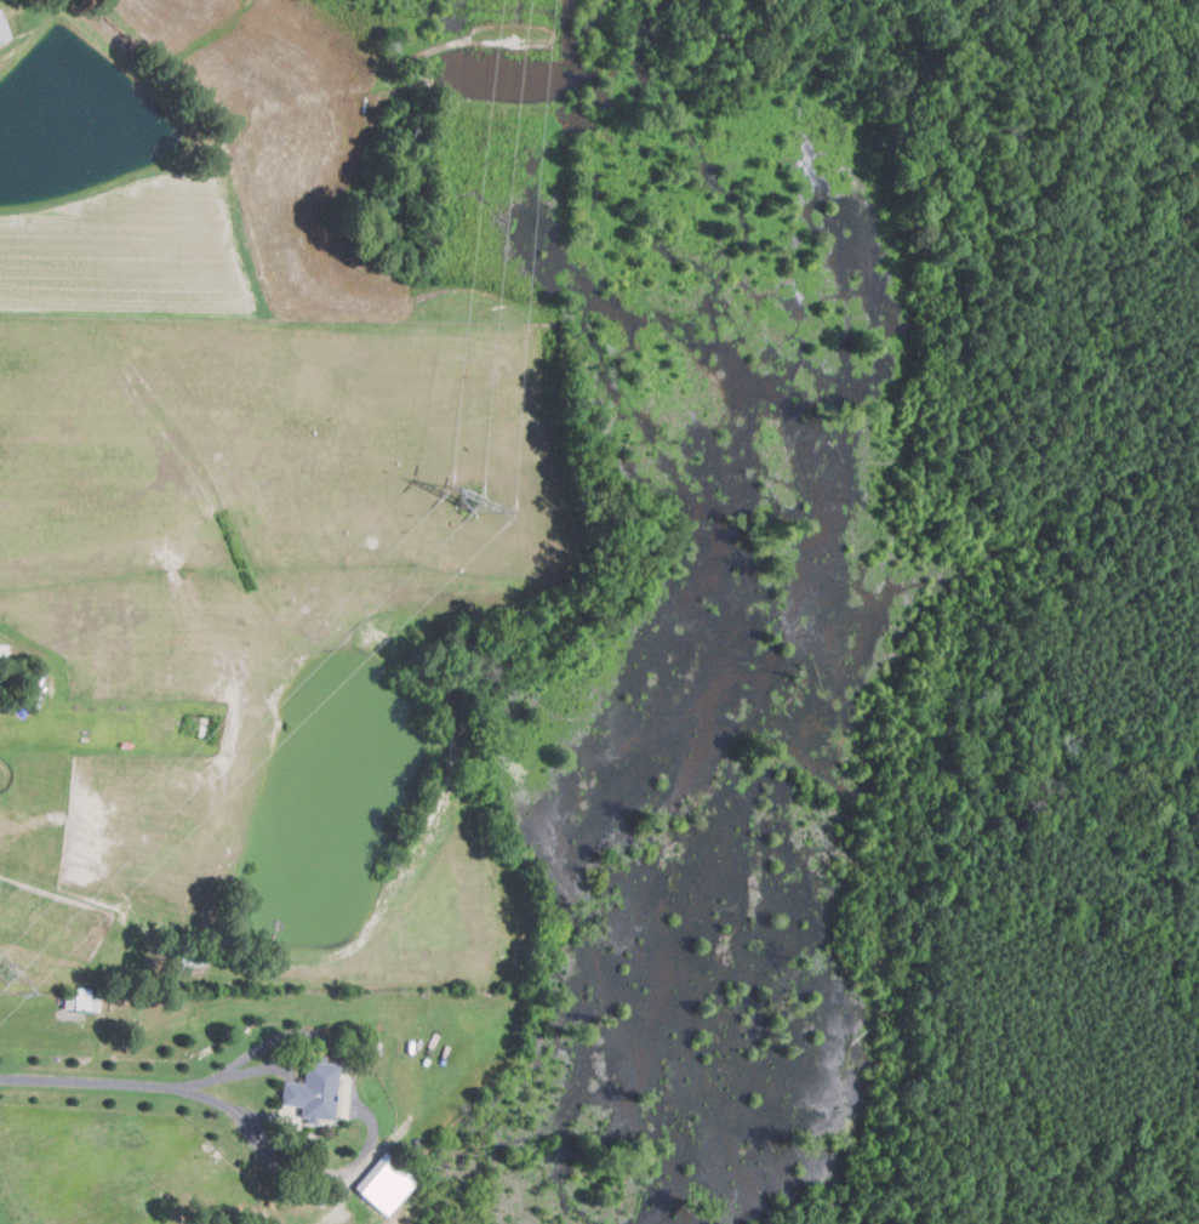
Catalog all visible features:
building: (2, 29)
power tower: (467, 503)
power tower: (5, 973)
building: (81, 1000)
road: (133, 1082)
building: (313, 1091)
building: (384, 1182)

